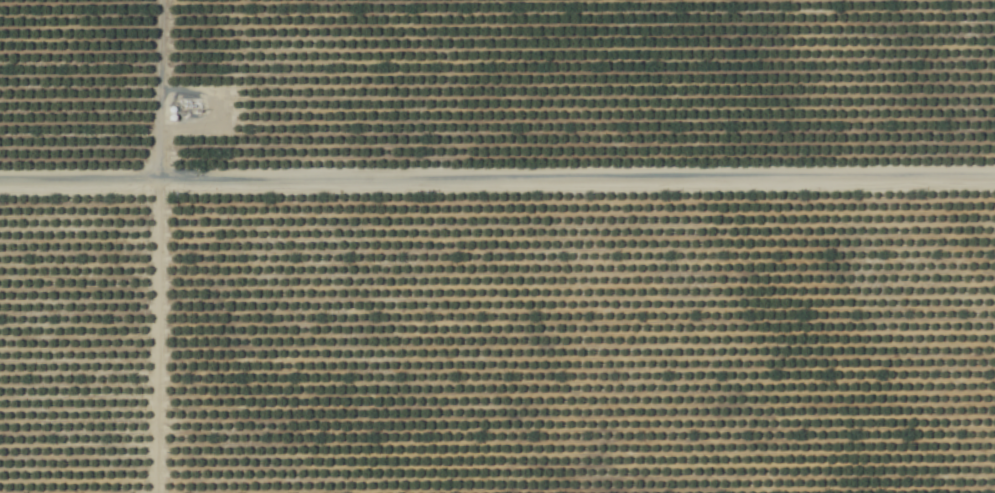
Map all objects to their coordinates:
road: (497, 183)
road: (150, 246)
crop: (497, 246)

